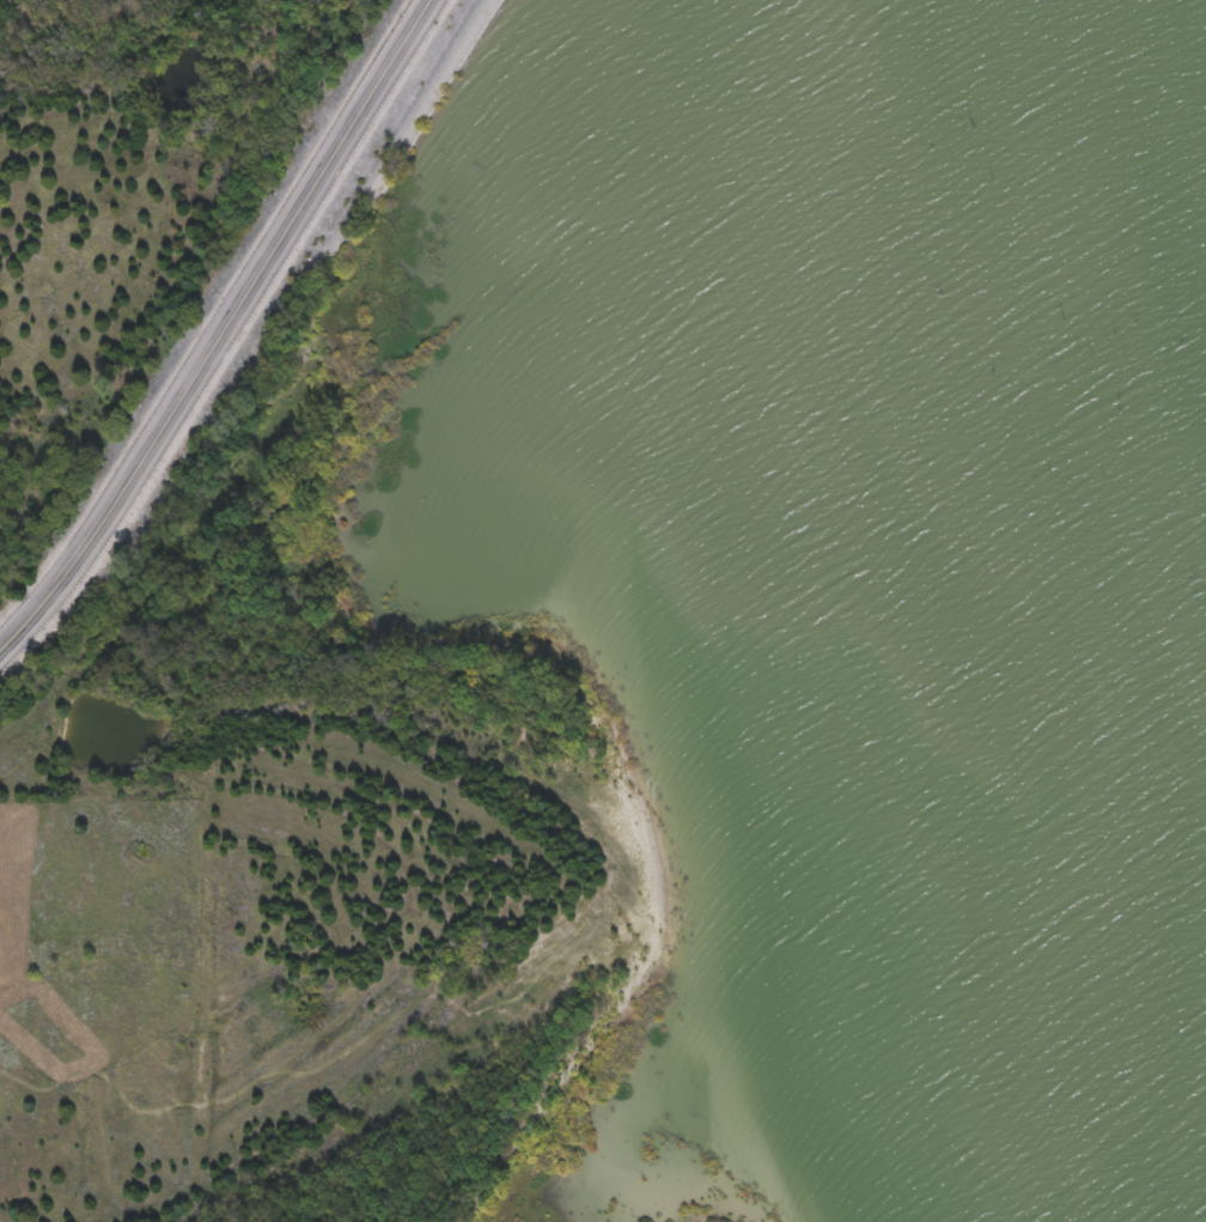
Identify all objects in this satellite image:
road: (385, 53)
road: (183, 377)

